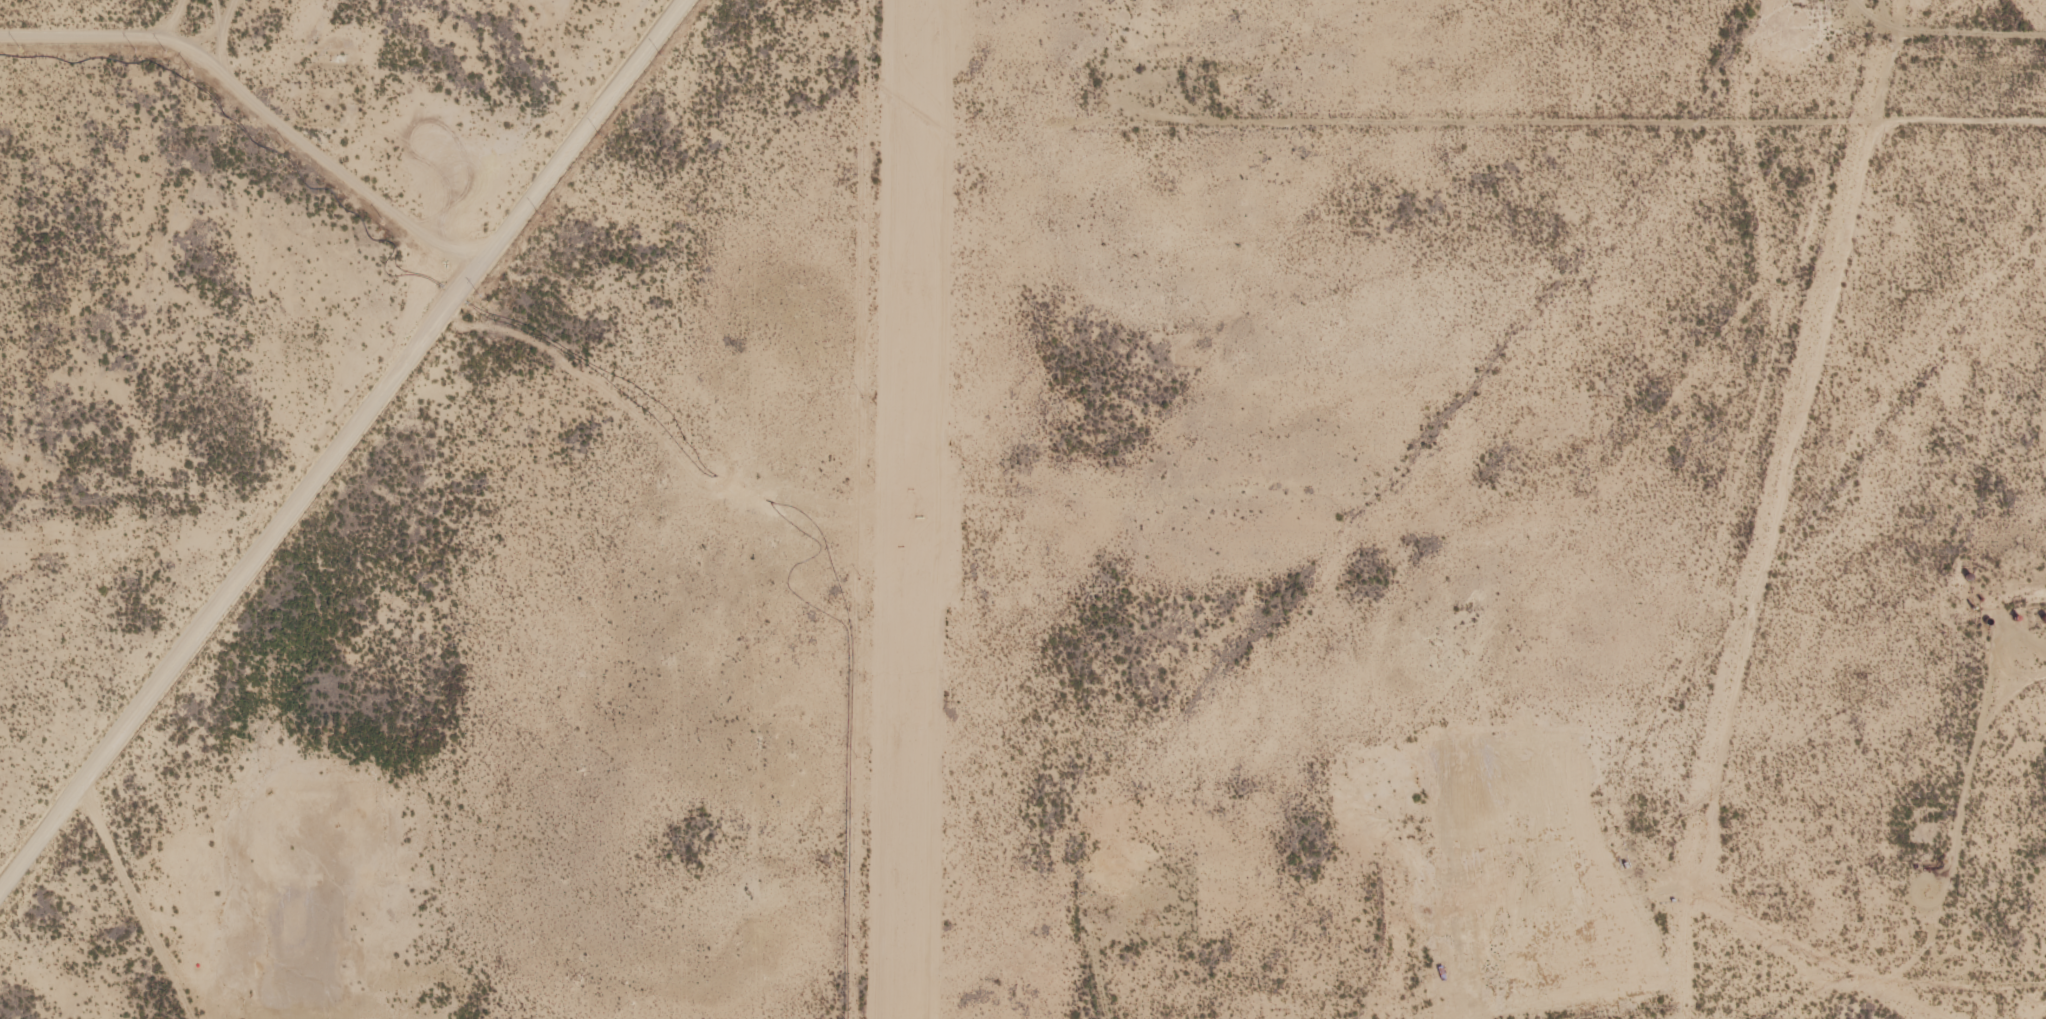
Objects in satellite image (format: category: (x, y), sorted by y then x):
road: (219, 15)
road: (177, 18)
road: (222, 34)
road: (205, 39)
road: (256, 102)
road: (1620, 138)
road: (345, 441)
road: (1920, 885)
road: (1993, 998)

